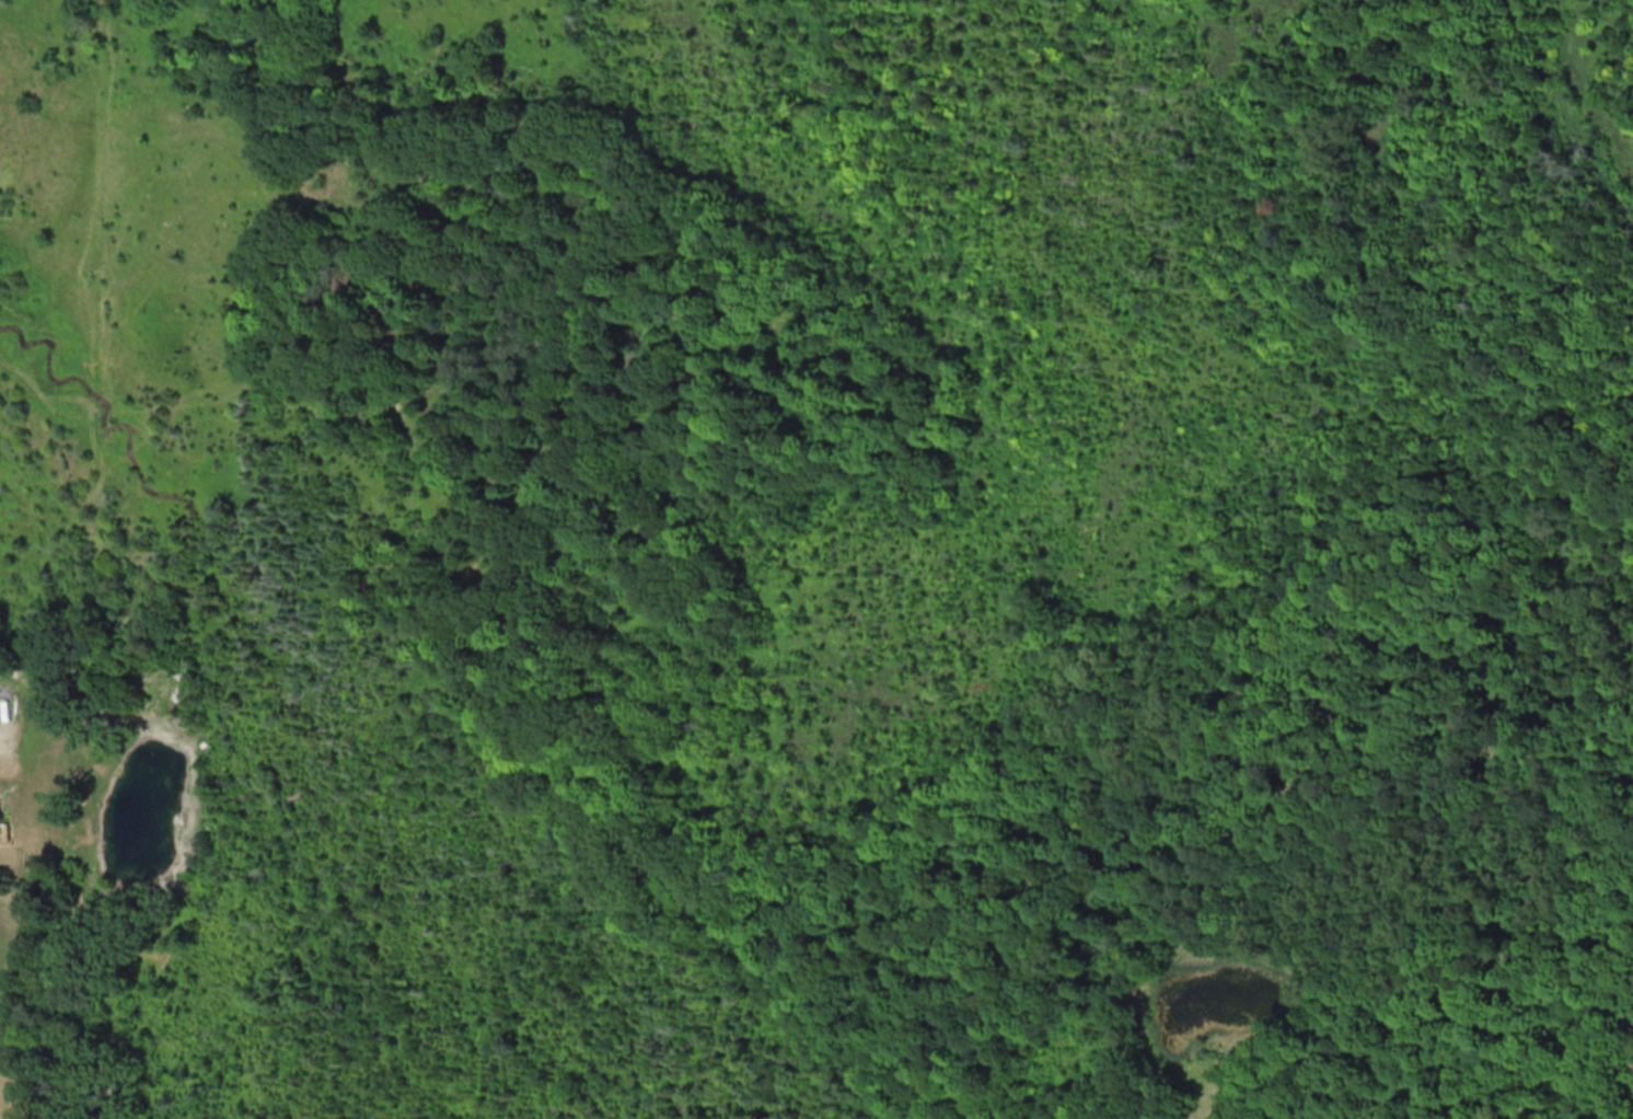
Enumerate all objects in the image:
building: (9, 703)
building: (5, 816)

